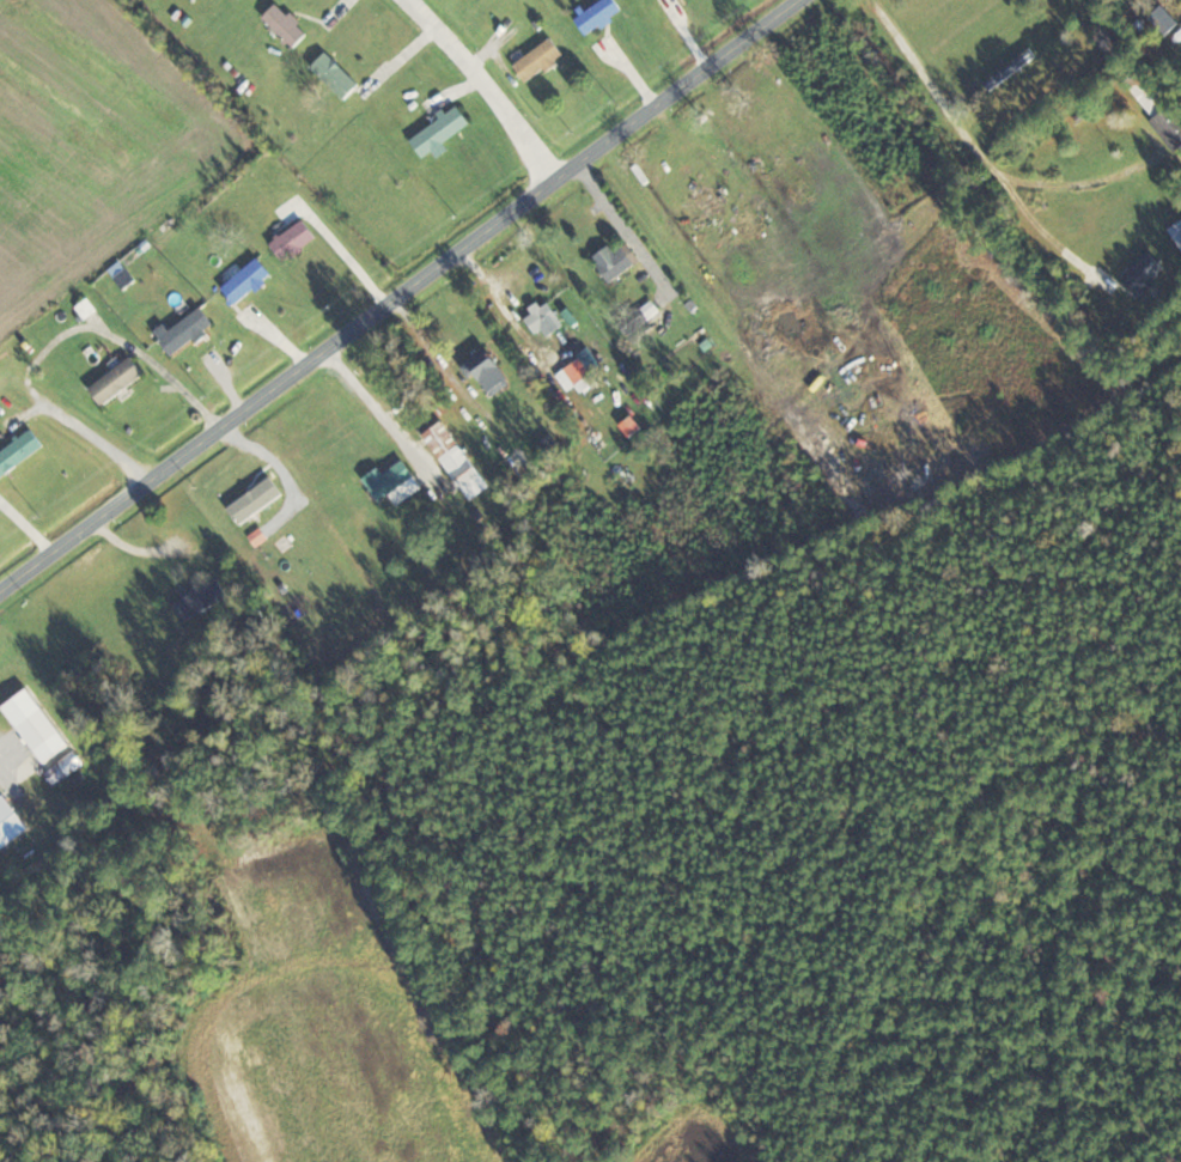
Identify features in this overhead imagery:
building: (602, 14)
building: (288, 24)
building: (1116, 42)
building: (543, 59)
building: (1015, 68)
building: (339, 74)
road: (480, 87)
building: (1153, 91)
building: (1173, 124)
building: (445, 133)
road: (979, 150)
road: (1084, 183)
road: (617, 217)
building: (1177, 229)
building: (297, 238)
building: (621, 262)
building: (250, 279)
road: (395, 291)
building: (548, 316)
building: (640, 322)
building: (189, 329)
building: (518, 329)
road: (47, 337)
building: (493, 370)
building: (120, 379)
building: (20, 452)
building: (462, 458)
building: (400, 483)
building: (206, 600)
building: (38, 717)
building: (69, 766)

